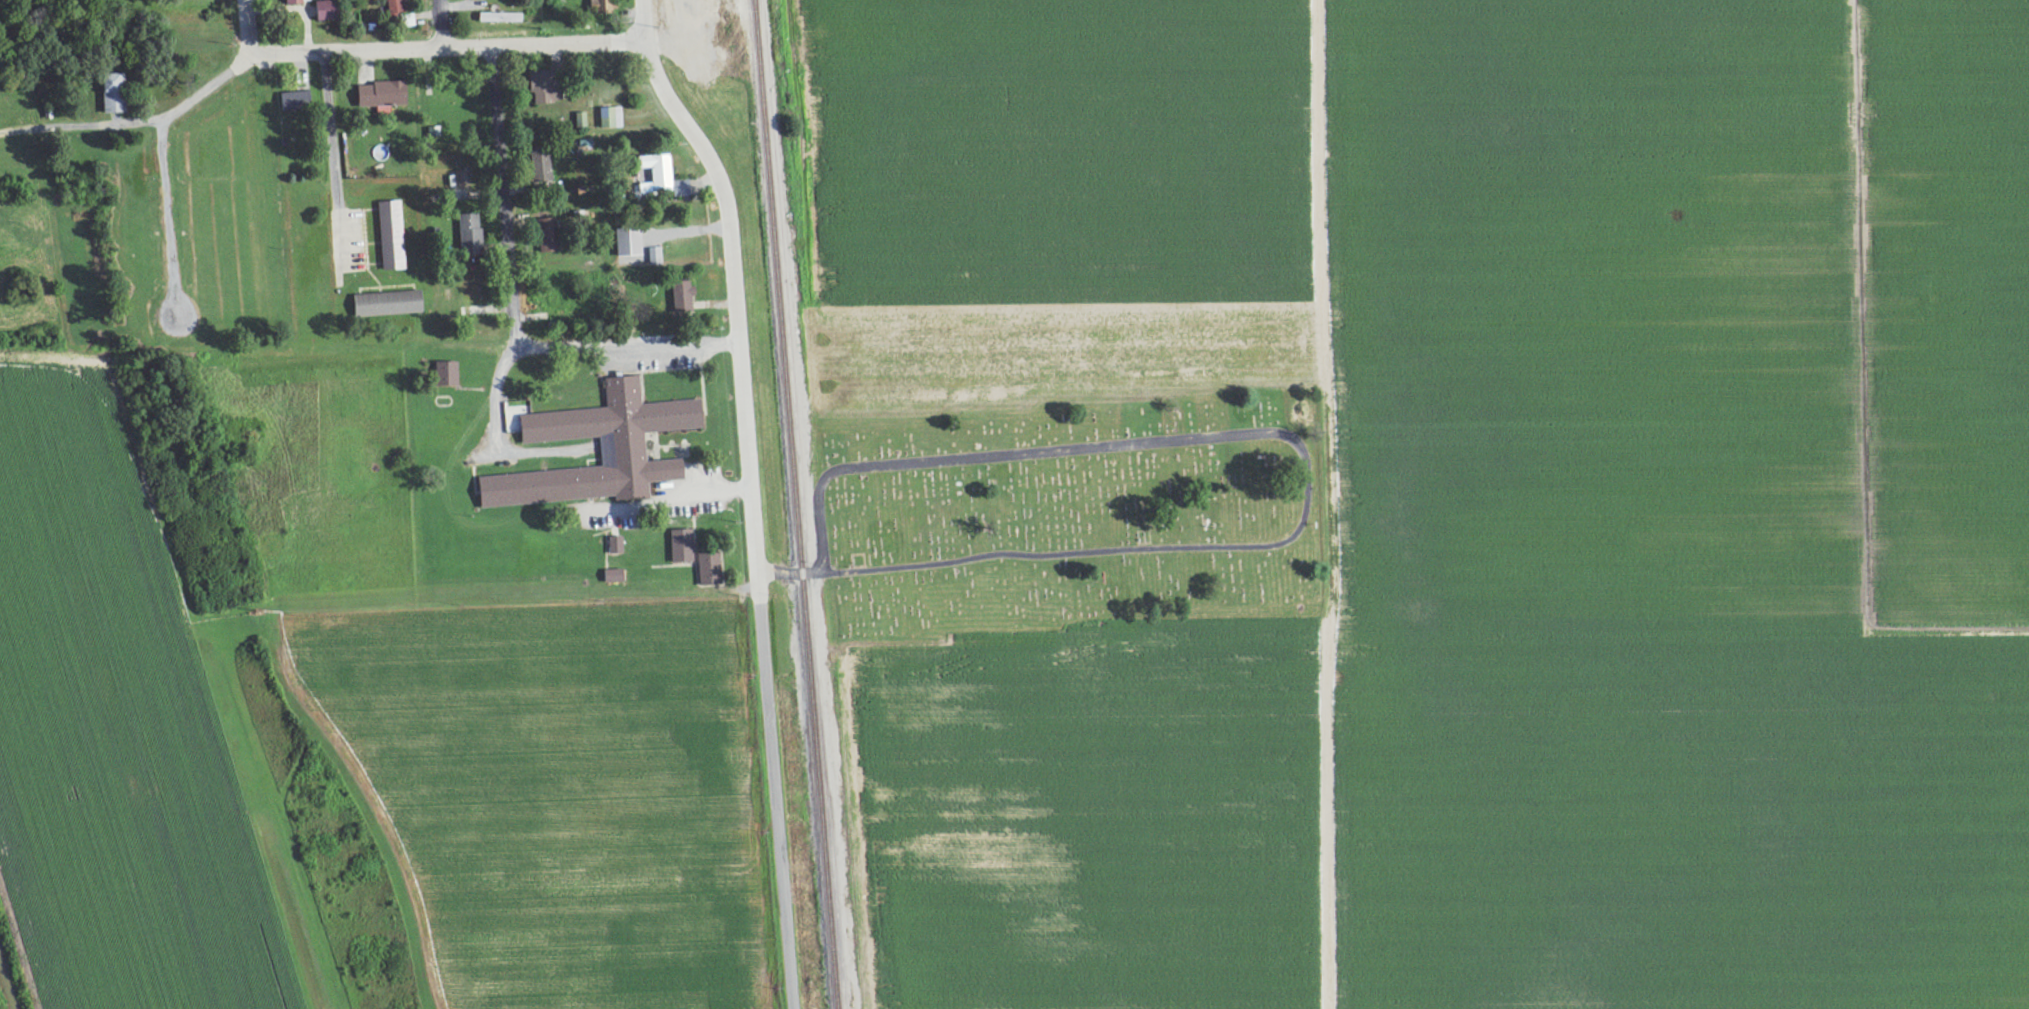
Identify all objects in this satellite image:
building: (289, 2)
building: (599, 5)
building: (321, 11)
building: (398, 13)
building: (497, 18)
road: (440, 24)
road: (245, 31)
road: (304, 54)
road: (64, 72)
building: (538, 87)
building: (108, 94)
building: (378, 95)
building: (293, 101)
building: (609, 118)
building: (579, 120)
road: (333, 161)
building: (538, 167)
building: (659, 177)
road: (505, 198)
road: (725, 219)
building: (467, 234)
building: (388, 236)
building: (545, 236)
building: (625, 243)
building: (652, 257)
building: (679, 296)
building: (384, 304)
road: (626, 349)
building: (443, 375)
building: (619, 441)
road: (497, 446)
railway: (797, 504)
park: (1071, 514)
building: (614, 545)
building: (679, 547)
building: (706, 570)
building: (610, 577)
road: (770, 733)

